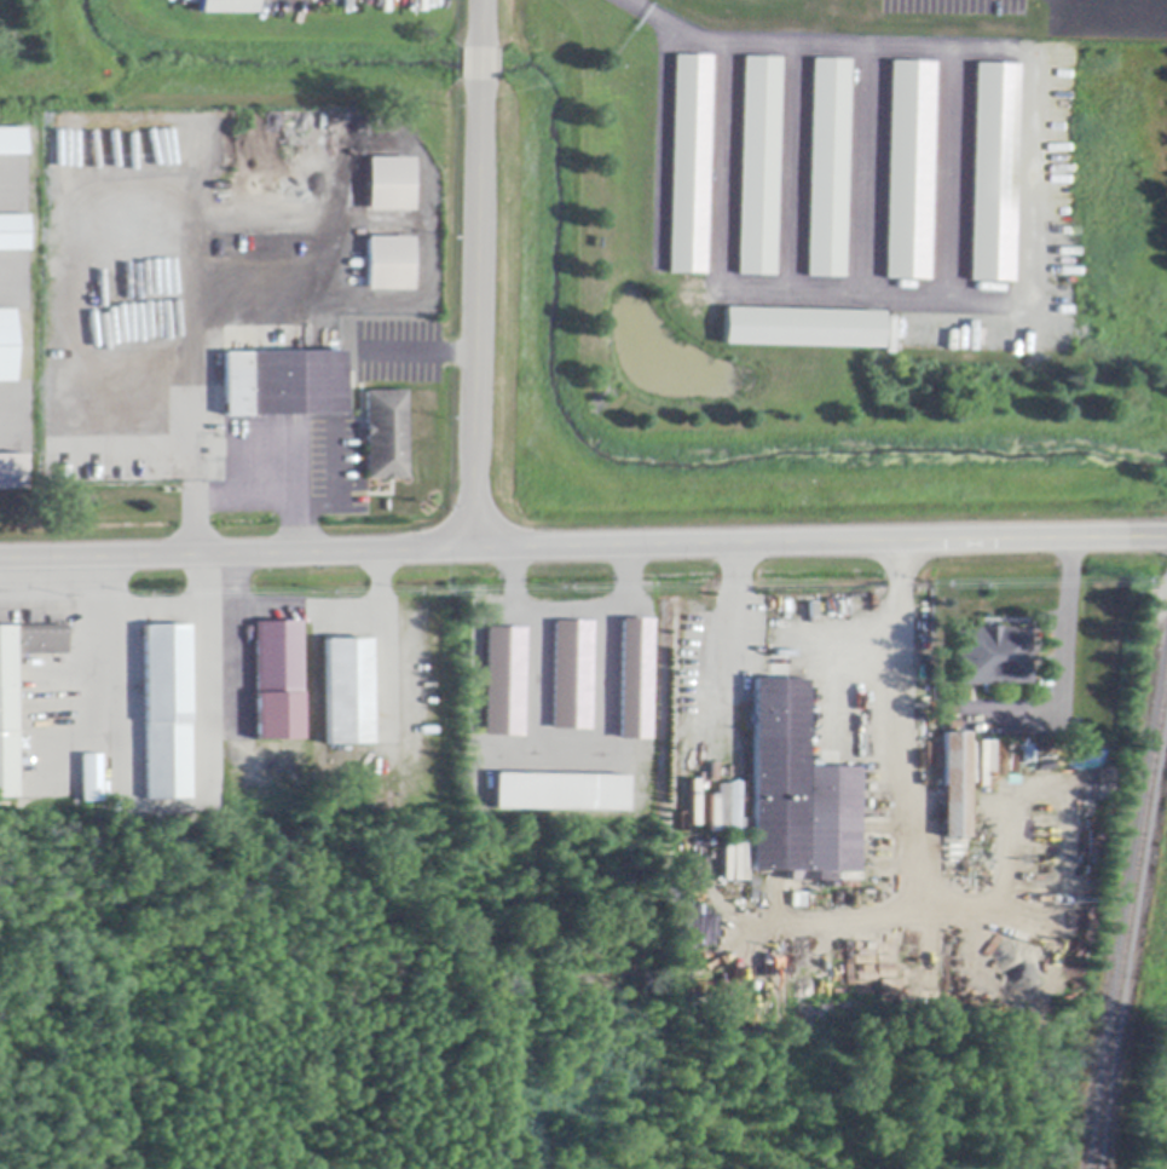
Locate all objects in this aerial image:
building: (225, 6)
building: (283, 6)
road: (811, 47)
building: (11, 140)
building: (689, 166)
building: (758, 167)
building: (827, 169)
building: (989, 171)
building: (908, 172)
building: (389, 185)
building: (13, 234)
building: (388, 265)
road: (475, 273)
building: (802, 329)
building: (5, 347)
building: (284, 384)
building: (385, 436)
building: (11, 473)
road: (583, 546)
road: (572, 605)
road: (308, 606)
road: (50, 610)
road: (149, 612)
building: (993, 656)
road: (1068, 663)
building: (570, 673)
road: (729, 676)
building: (632, 678)
building: (503, 680)
building: (278, 683)
building: (348, 692)
building: (166, 714)
road: (900, 716)
building: (7, 727)
building: (91, 779)
building: (954, 787)
building: (560, 793)
building: (797, 794)
railway: (1130, 923)
crop: (1165, 948)
crop: (1155, 1113)

